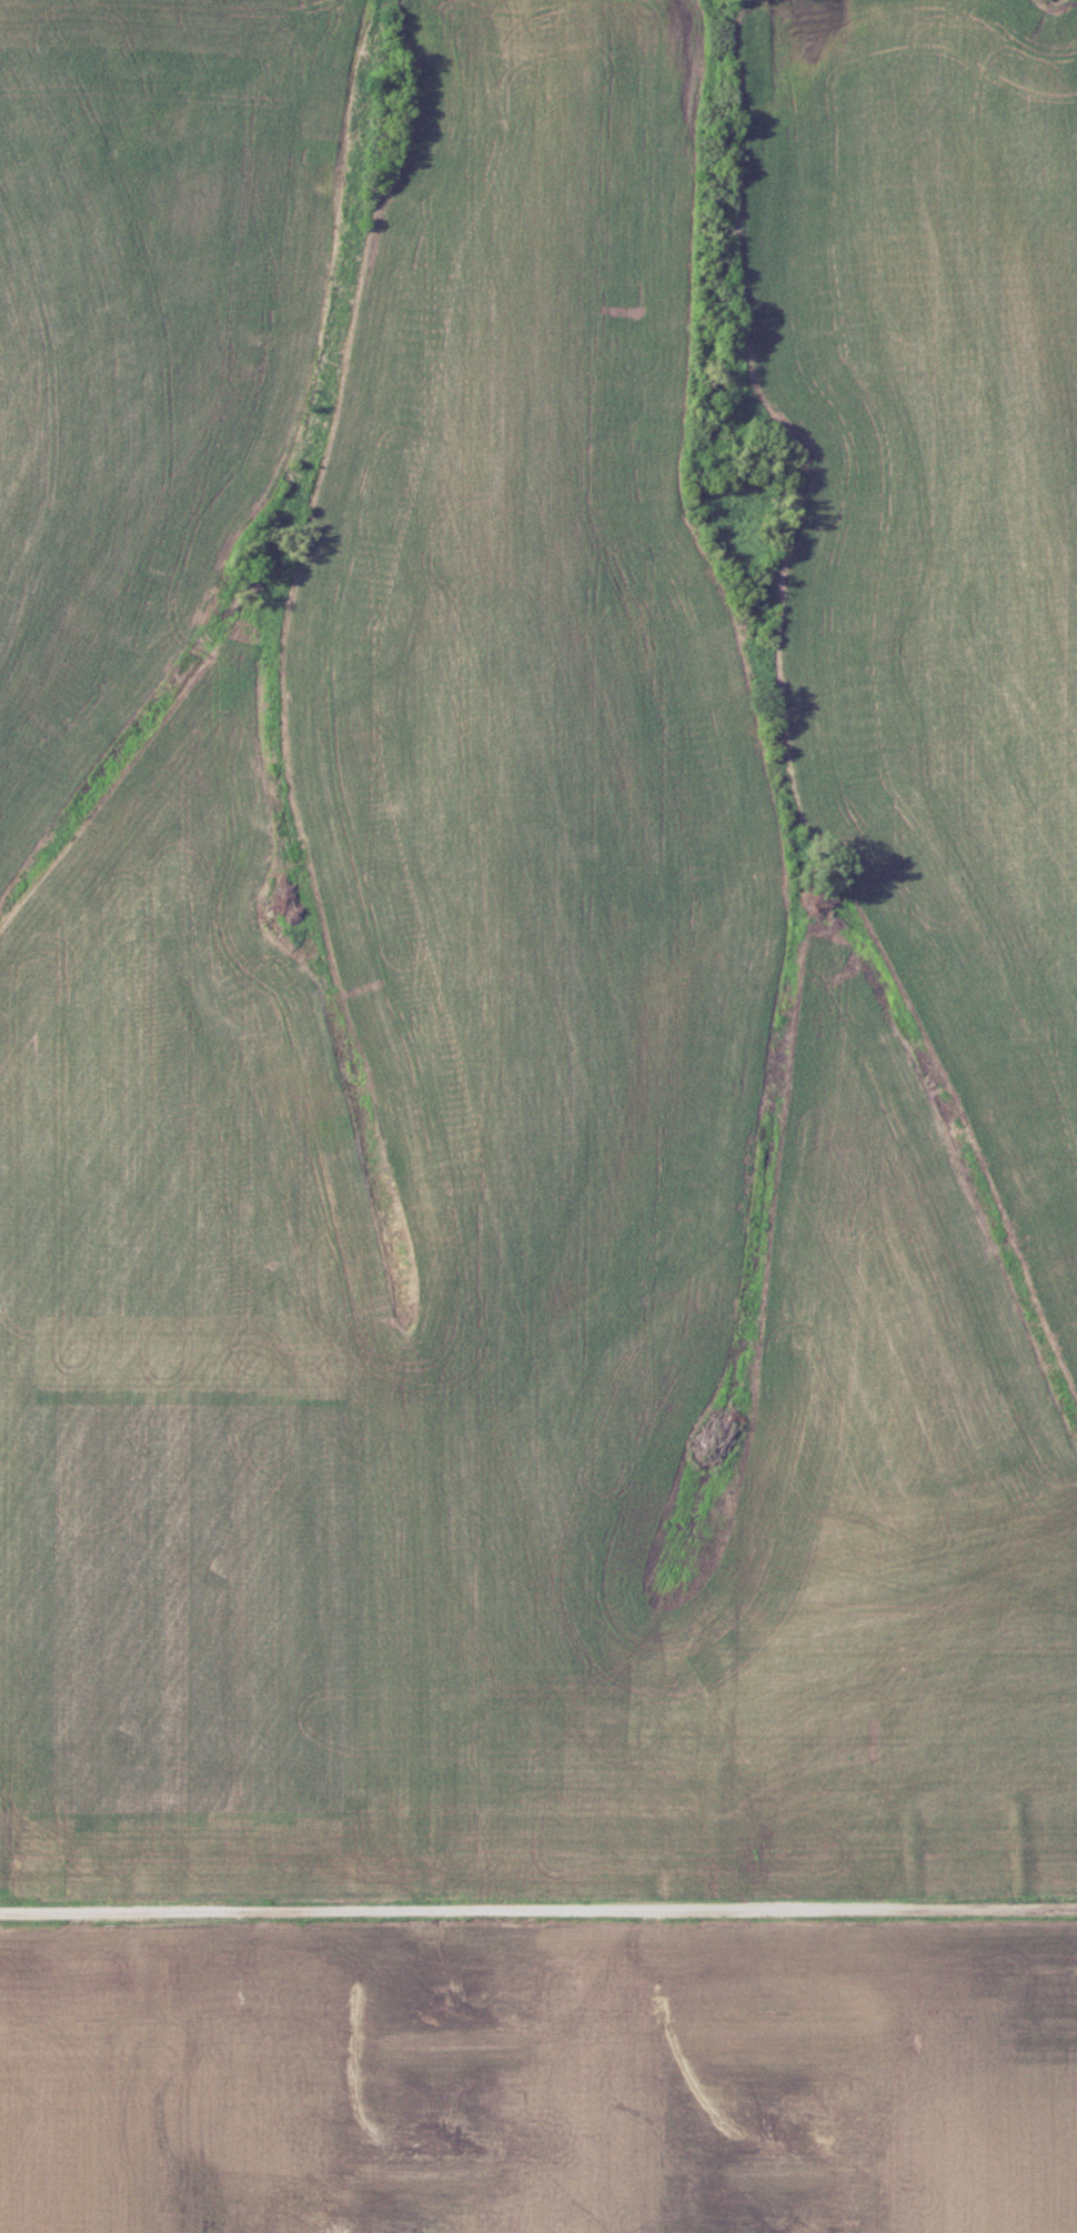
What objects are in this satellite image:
road: (537, 1910)

